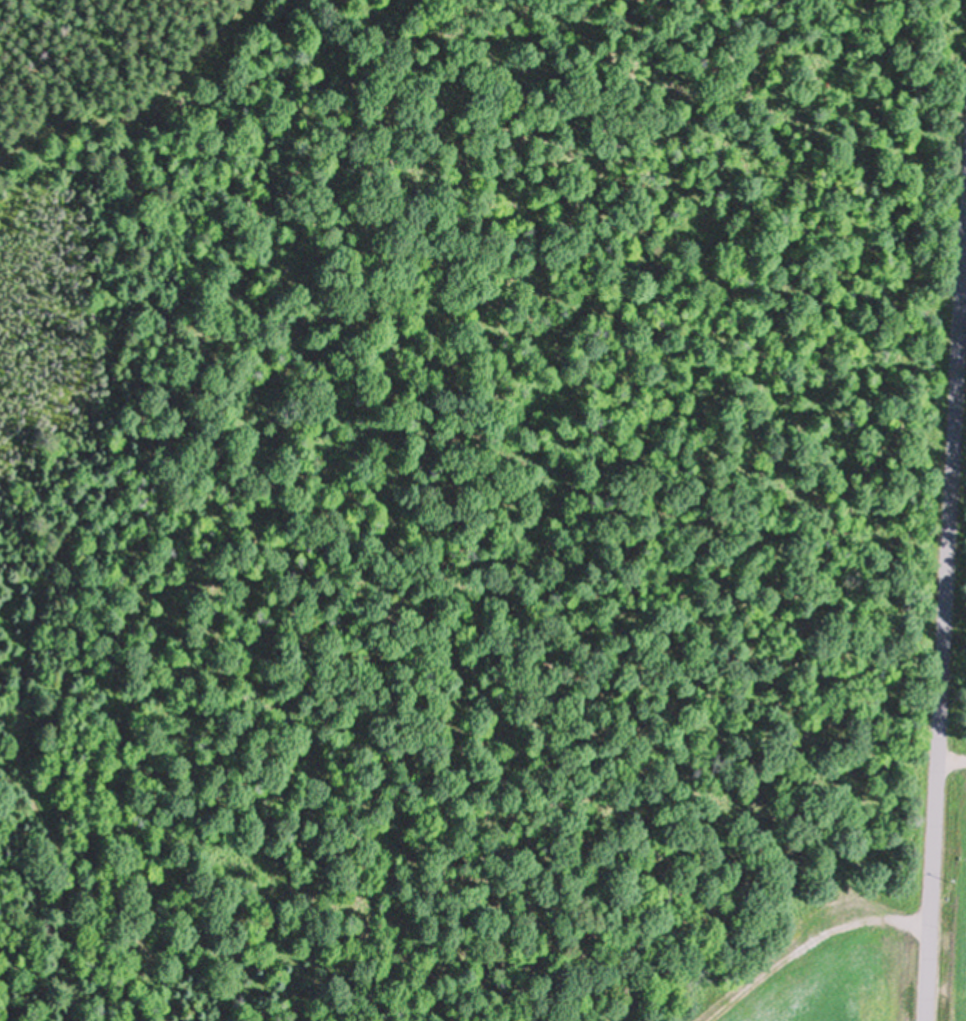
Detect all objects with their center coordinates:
road: (942, 633)
crop: (956, 901)
crop: (831, 959)

